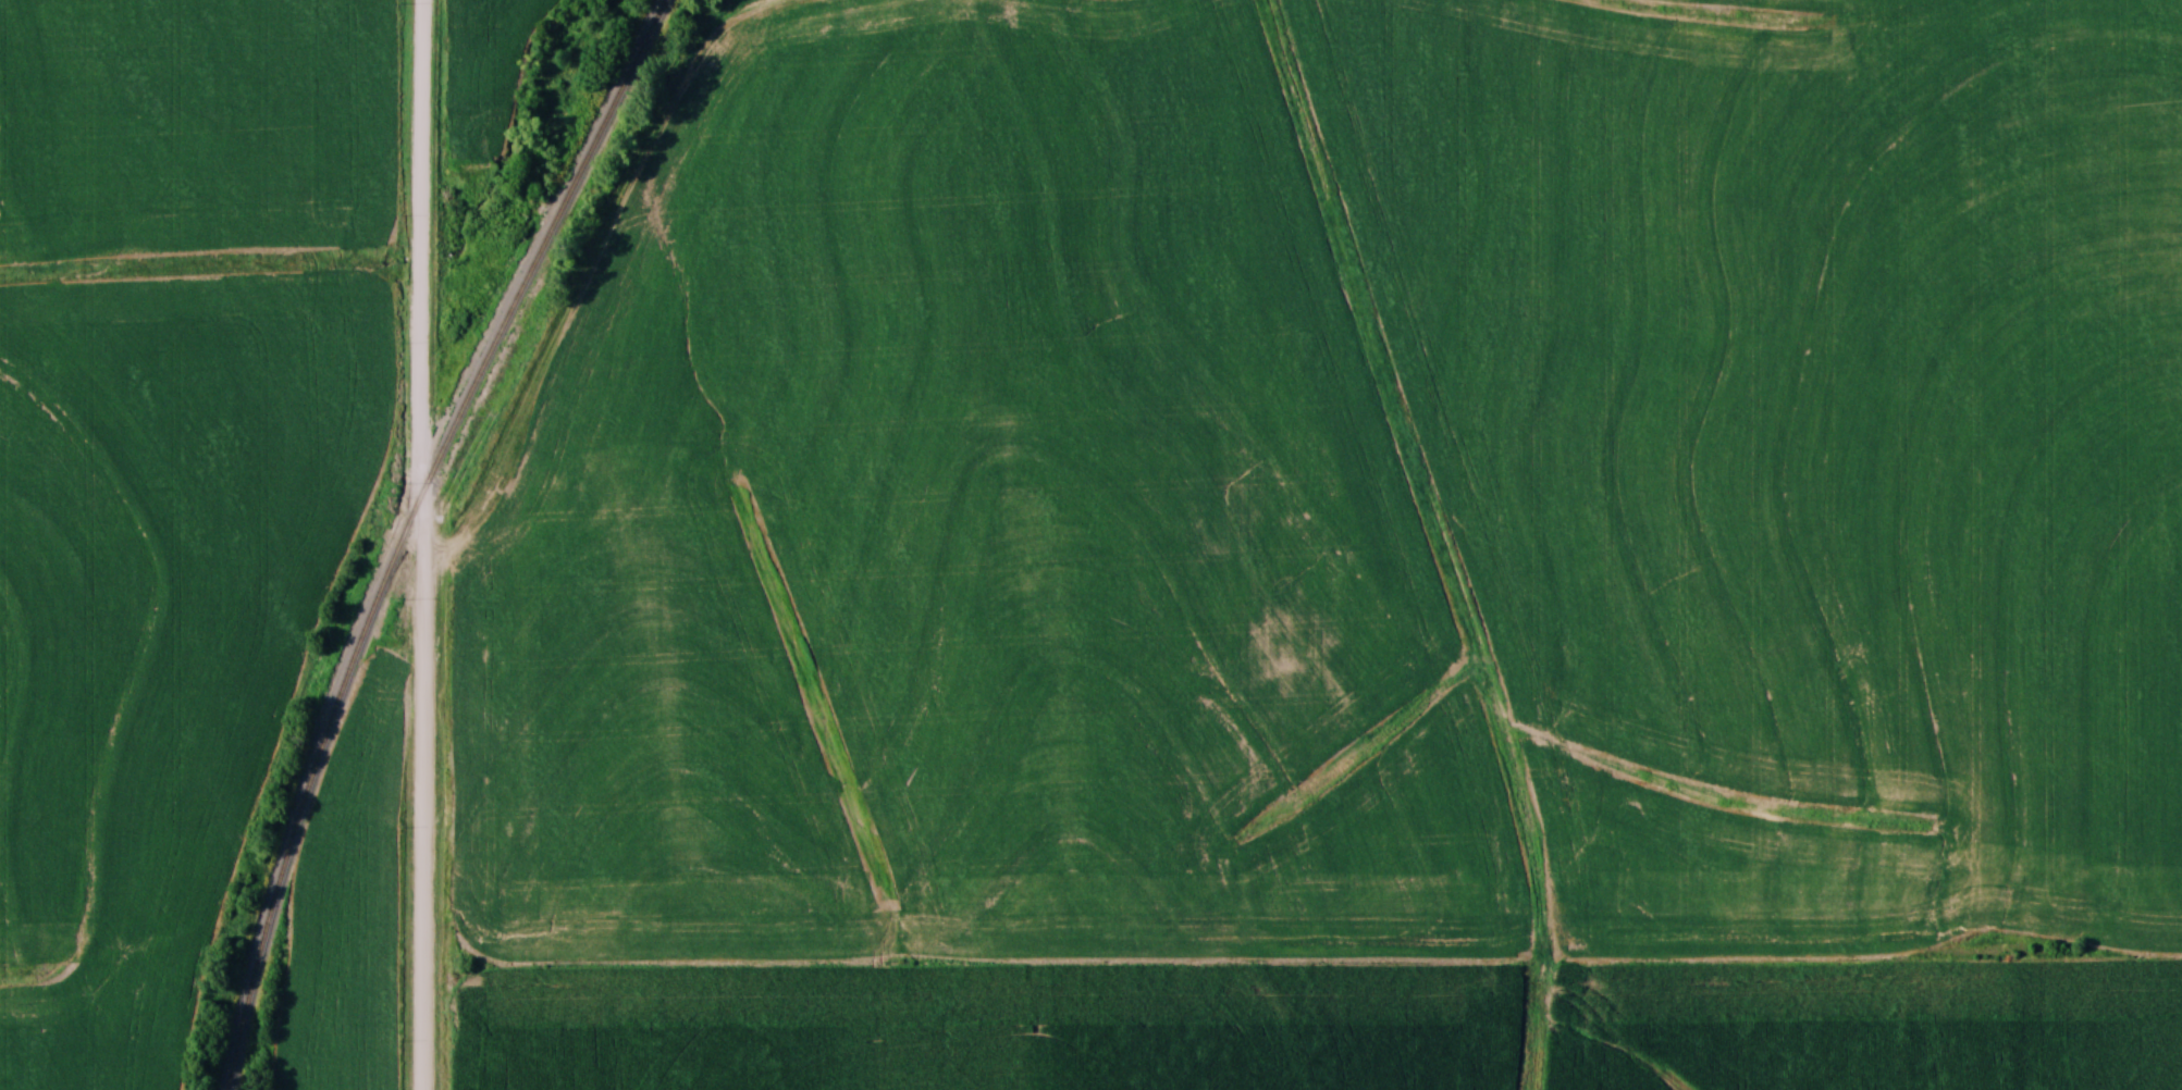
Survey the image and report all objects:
railway: (406, 527)
road: (420, 544)

